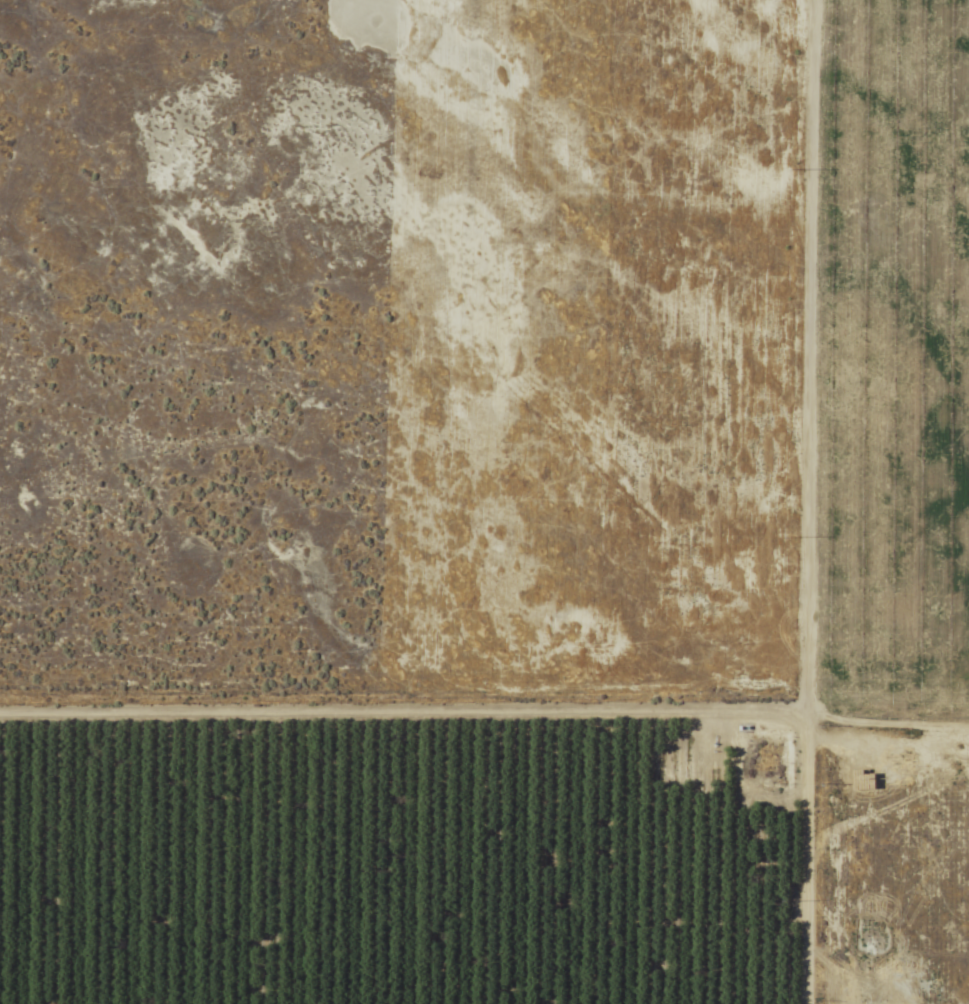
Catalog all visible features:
road: (813, 502)
road: (405, 709)

